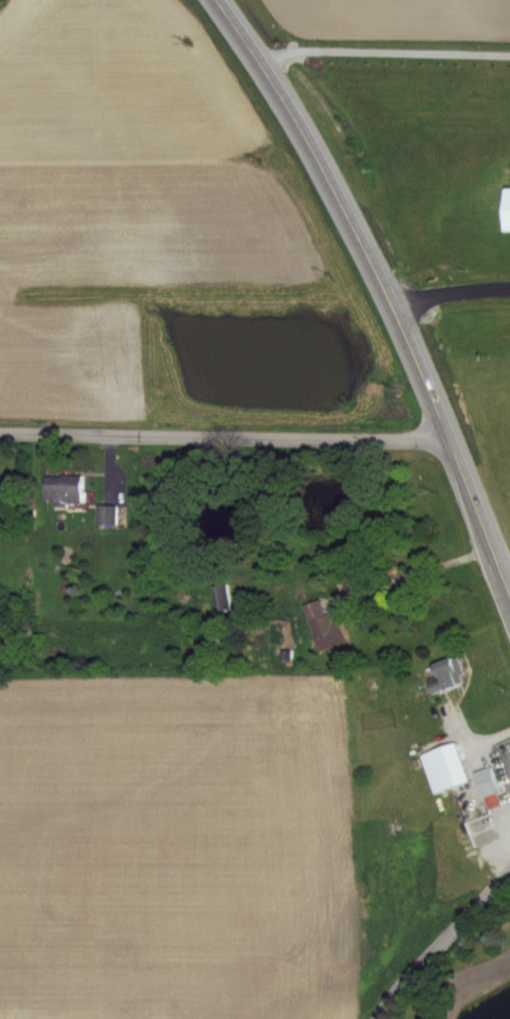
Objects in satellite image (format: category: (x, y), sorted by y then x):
crop: (395, 20)
road: (385, 52)
crop: (192, 231)
road: (384, 286)
road: (449, 289)
road: (226, 437)
building: (65, 489)
building: (108, 514)
road: (409, 573)
building: (224, 598)
building: (327, 626)
building: (454, 673)
building: (447, 768)
building: (491, 786)
crop: (180, 845)
road: (440, 946)

